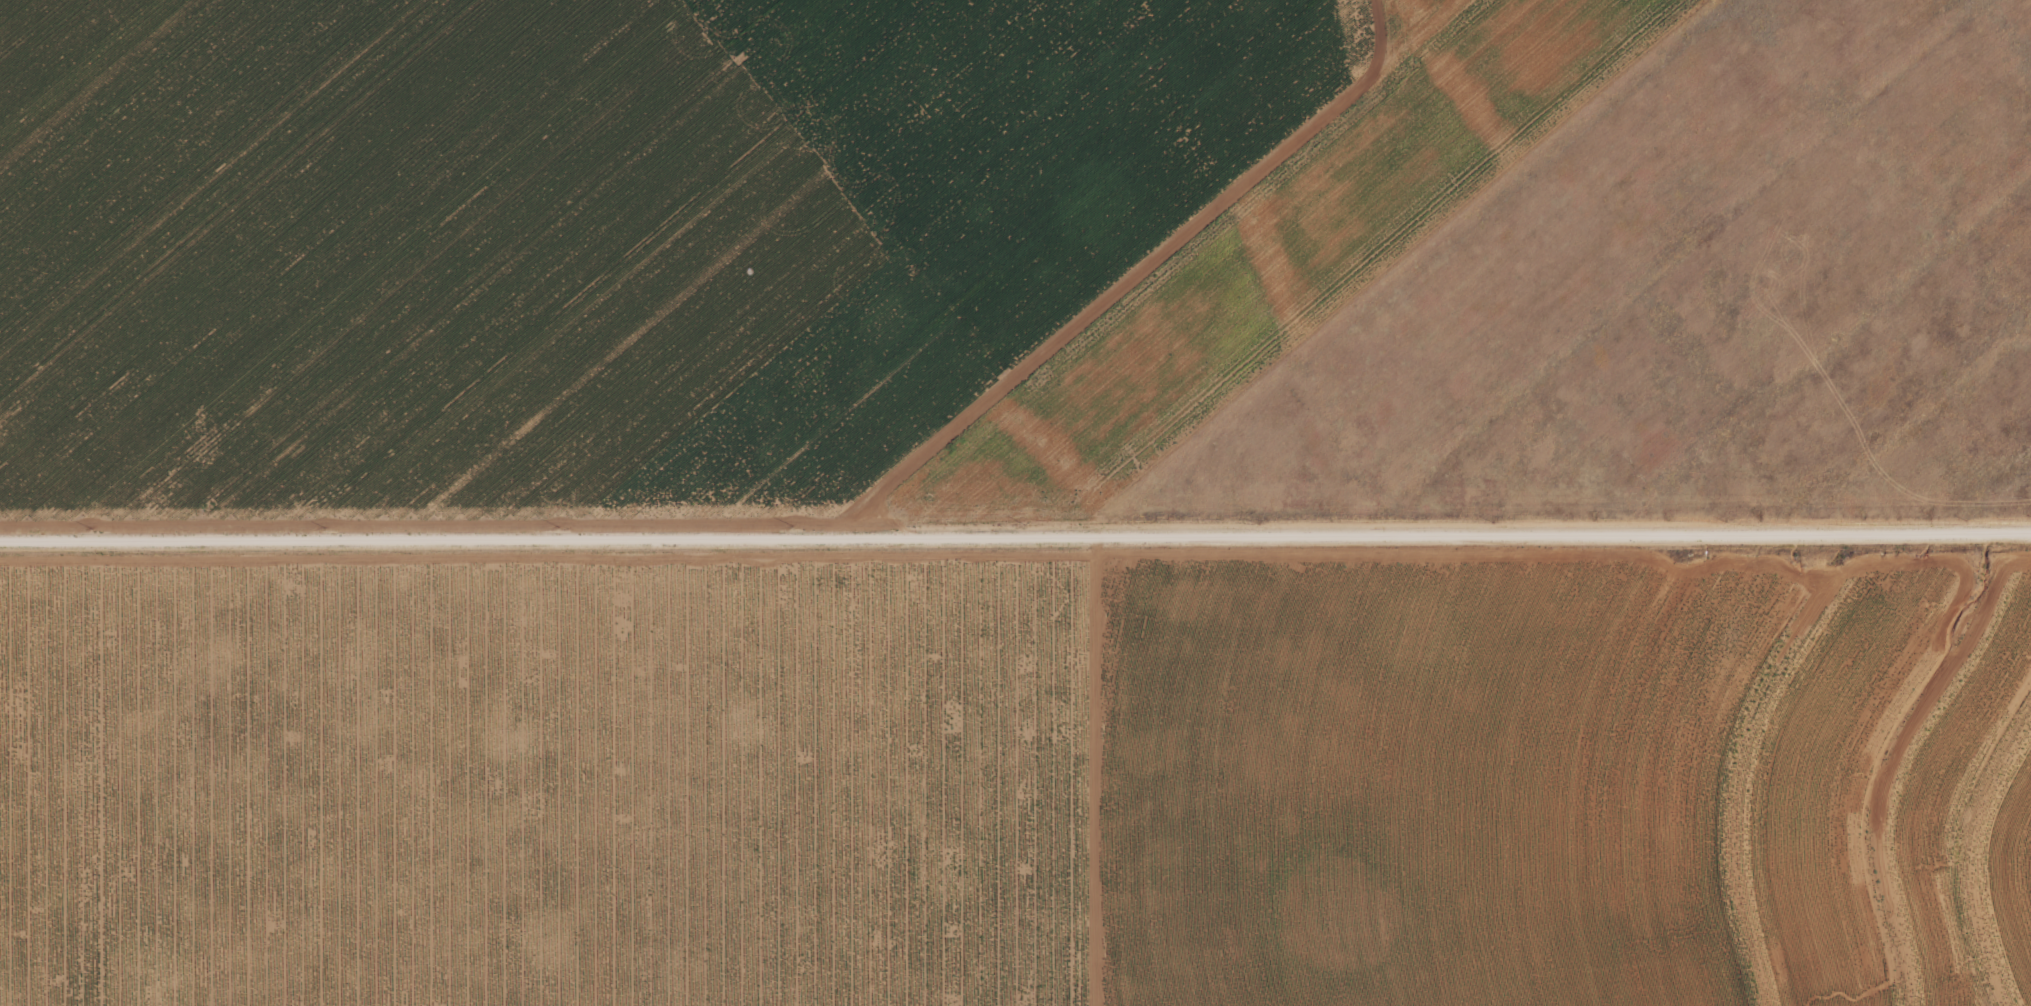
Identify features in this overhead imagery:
road: (1015, 538)

